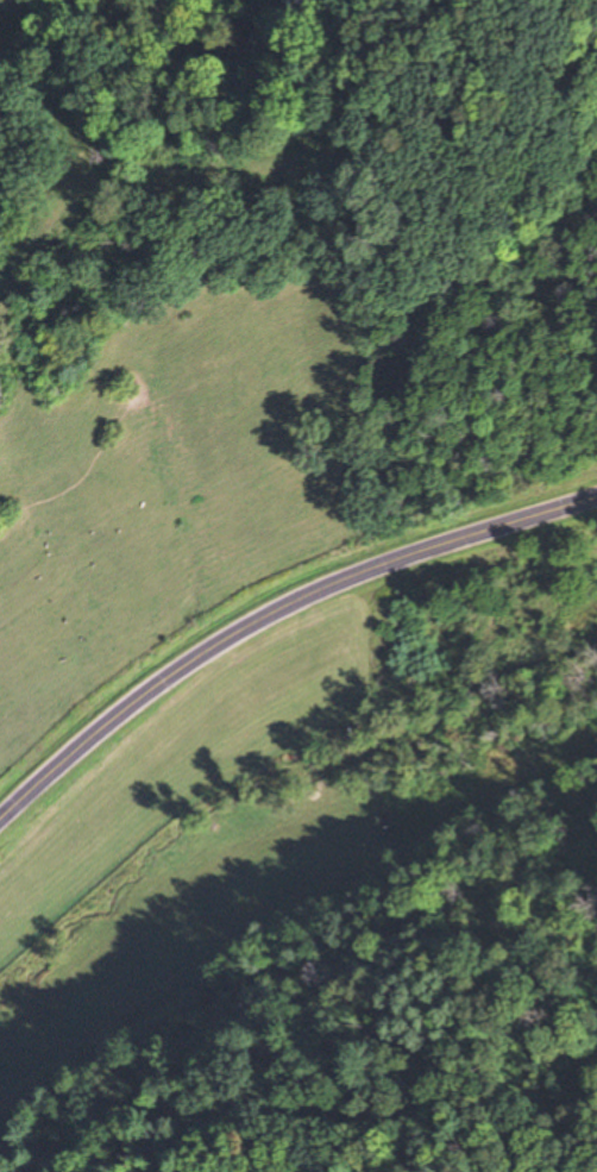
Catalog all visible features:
road: (271, 602)

